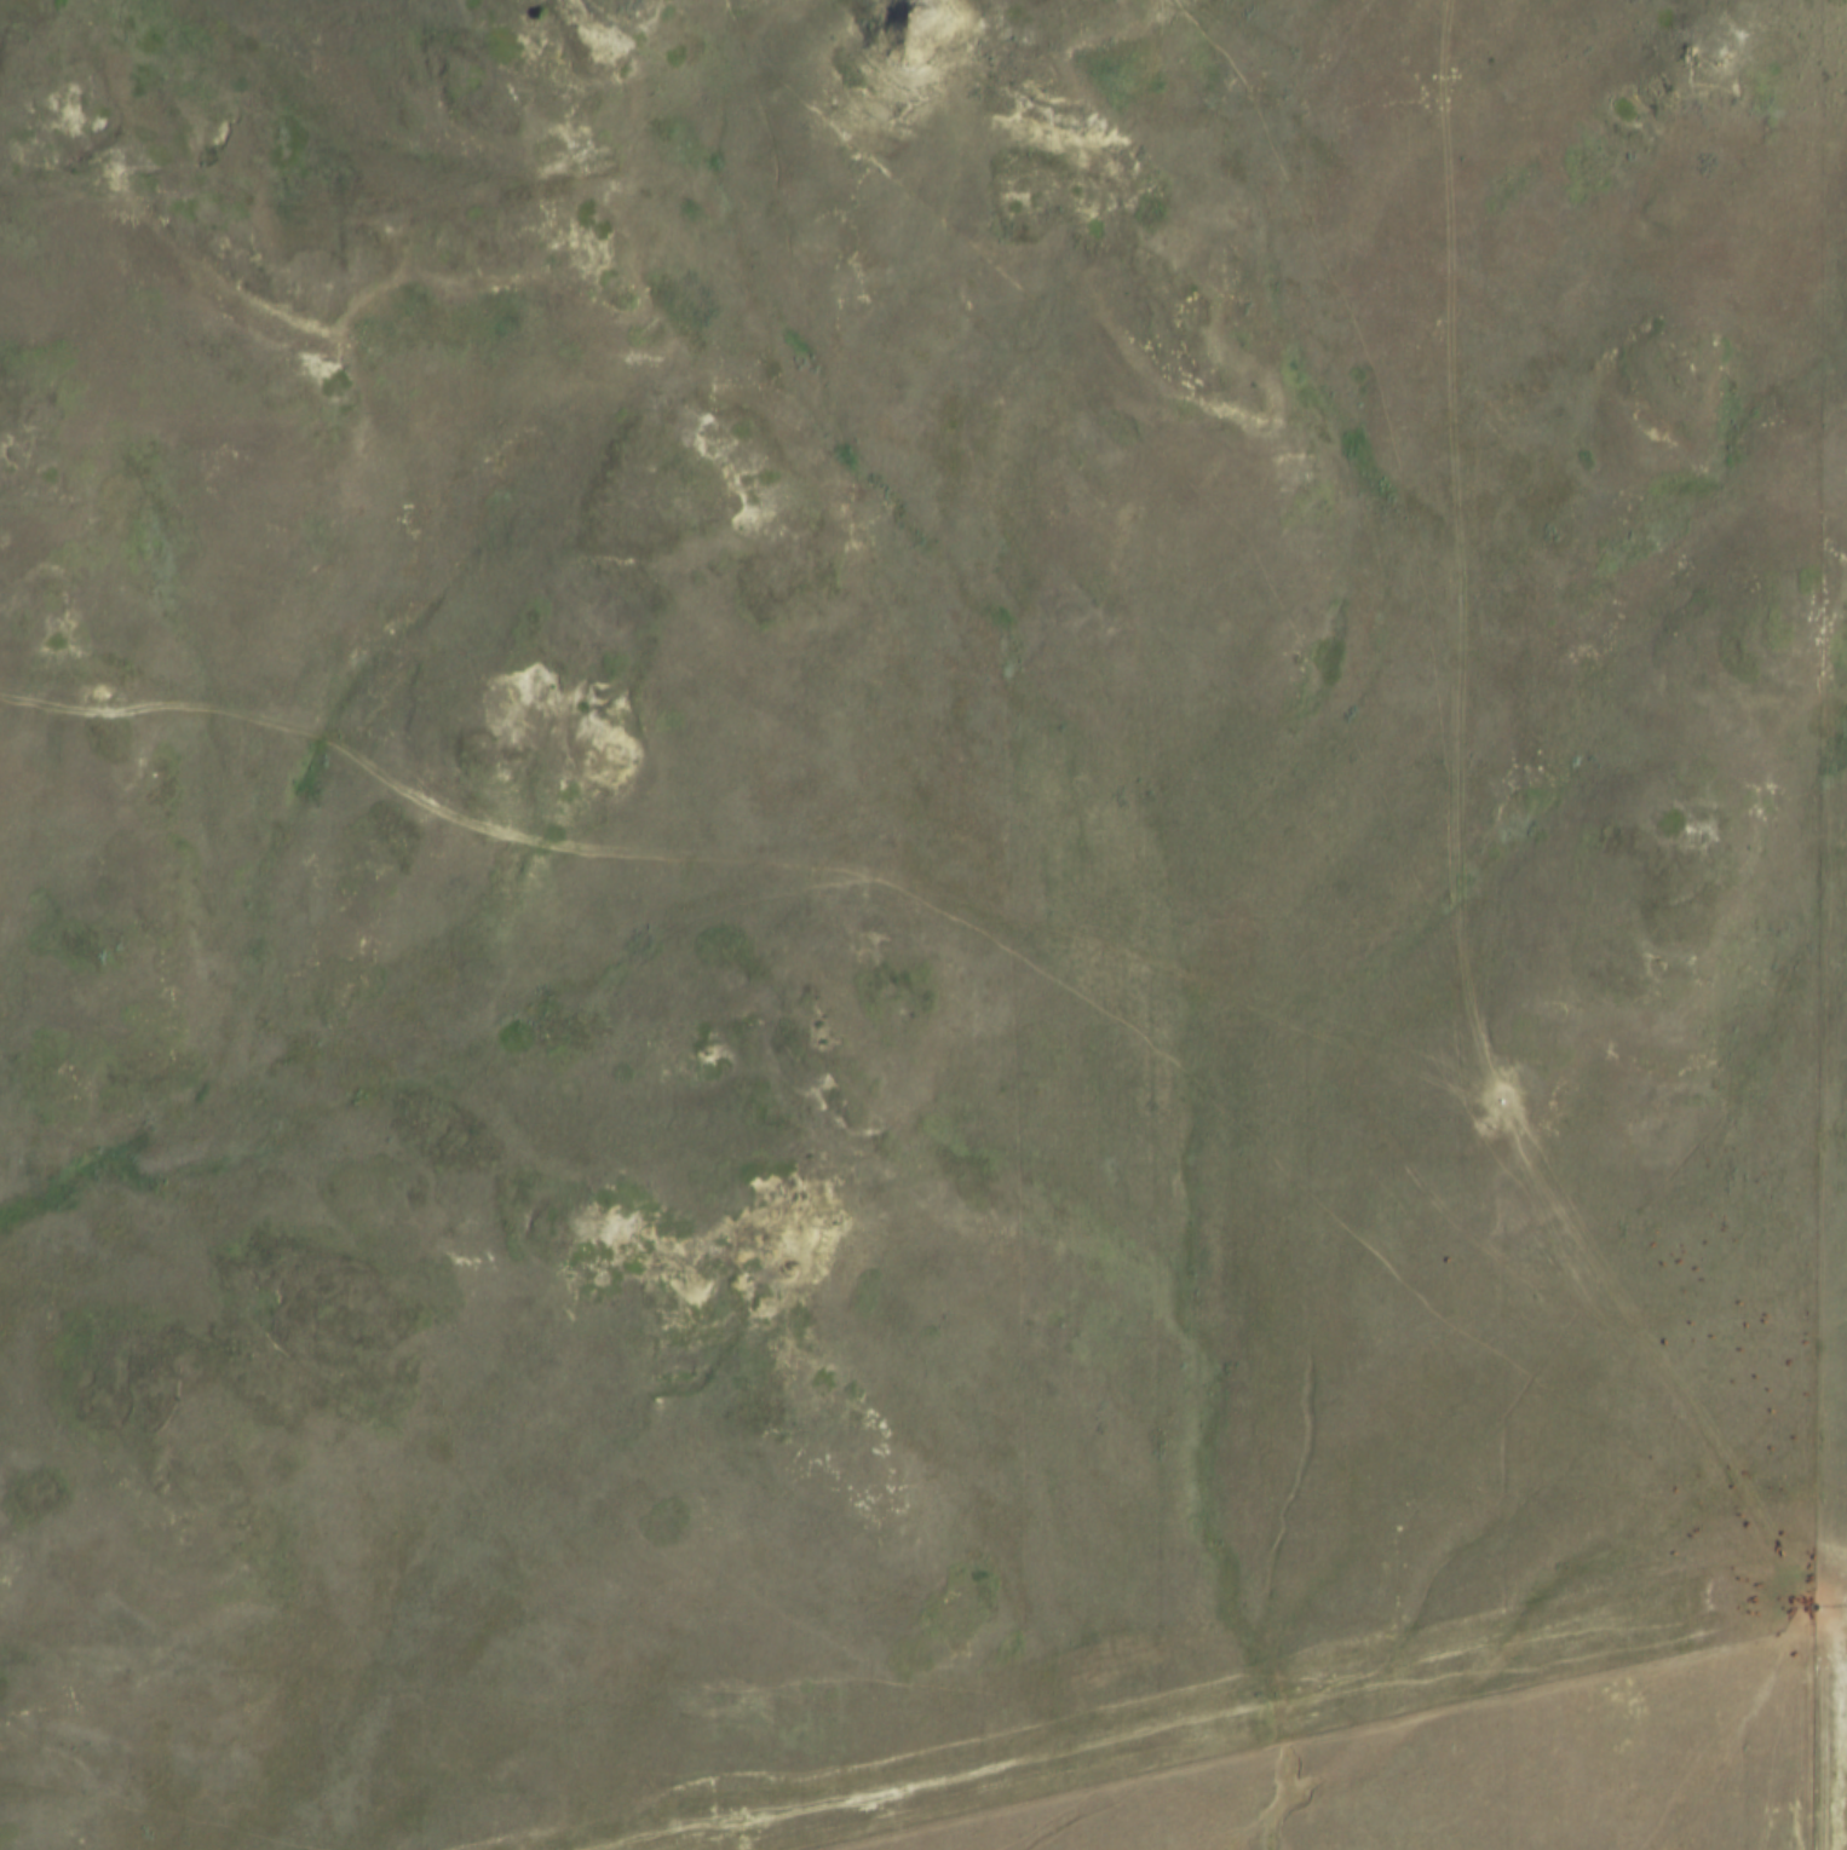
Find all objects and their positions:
road: (1830, 1616)

